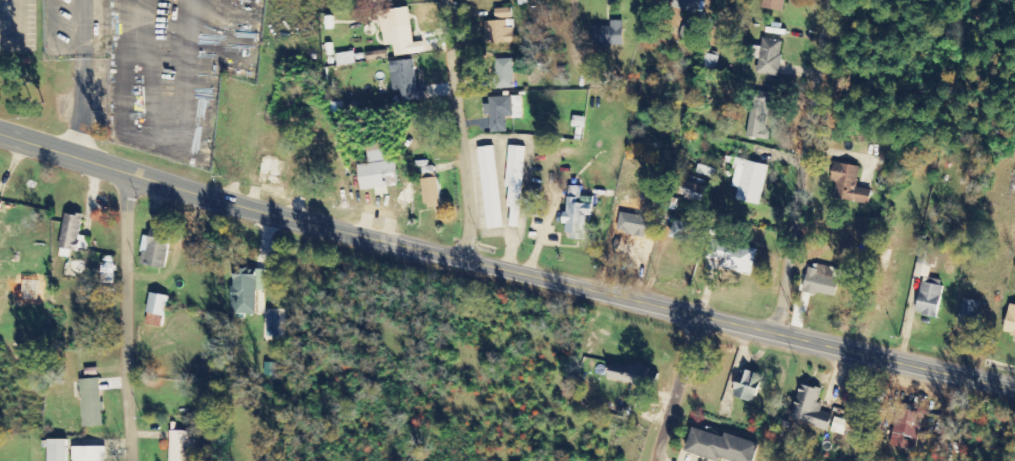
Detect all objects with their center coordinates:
building: (686, 5)
building: (774, 5)
road: (552, 17)
building: (500, 26)
building: (688, 29)
building: (399, 32)
building: (608, 34)
building: (376, 55)
building: (769, 56)
building: (345, 59)
building: (503, 74)
road: (83, 78)
building: (405, 82)
building: (503, 112)
building: (759, 115)
road: (462, 129)
road: (806, 166)
building: (377, 169)
building: (748, 181)
building: (515, 184)
building: (848, 184)
building: (490, 187)
building: (693, 192)
building: (429, 193)
building: (576, 210)
building: (626, 221)
building: (683, 231)
building: (72, 233)
building: (154, 252)
building: (737, 259)
building: (925, 261)
road: (504, 269)
building: (822, 281)
building: (246, 290)
building: (928, 300)
building: (157, 305)
building: (969, 313)
road: (123, 317)
building: (1010, 322)
road: (399, 356)
building: (628, 374)
building: (747, 385)
road: (672, 388)
building: (91, 403)
building: (809, 408)
building: (906, 429)
building: (181, 446)
building: (720, 447)
building: (55, 449)
building: (88, 454)

